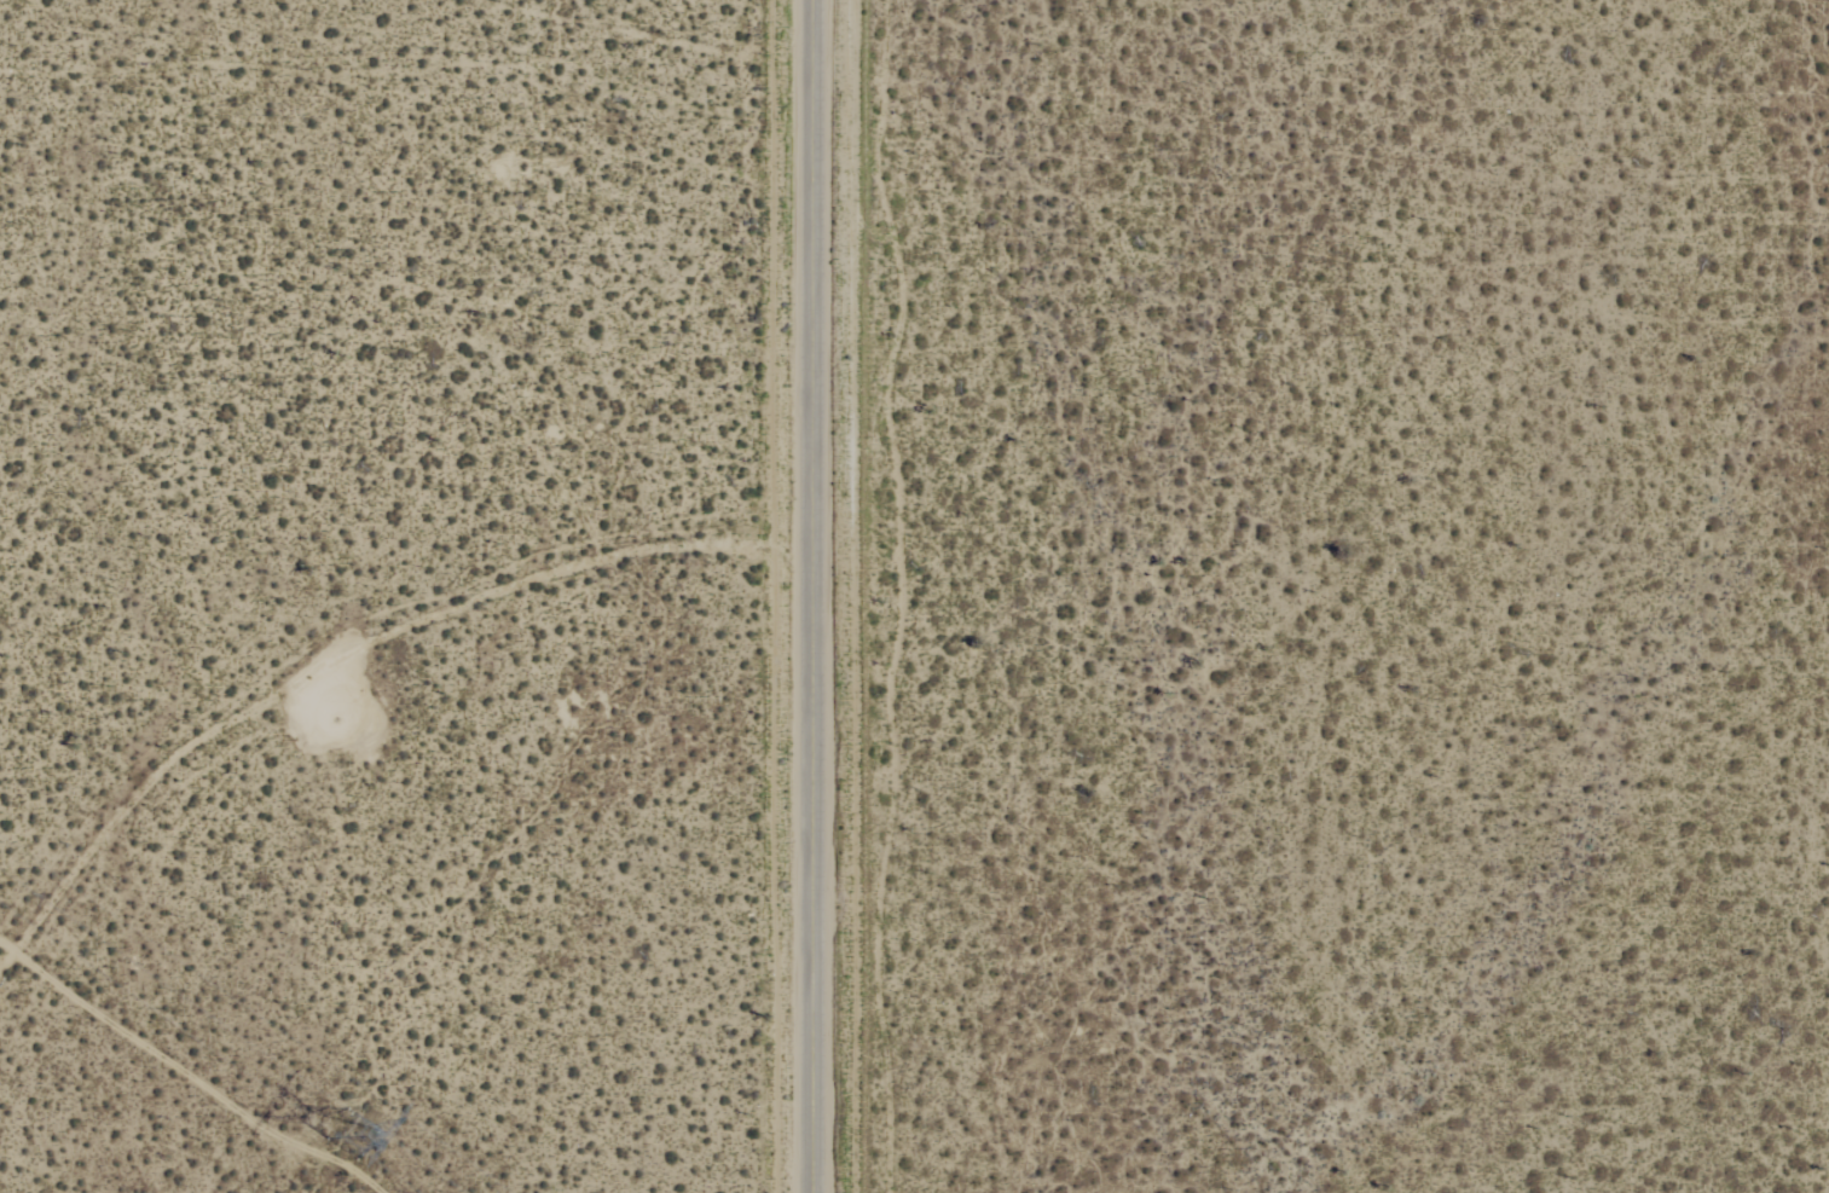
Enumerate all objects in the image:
road: (818, 596)
power tower: (334, 1129)

